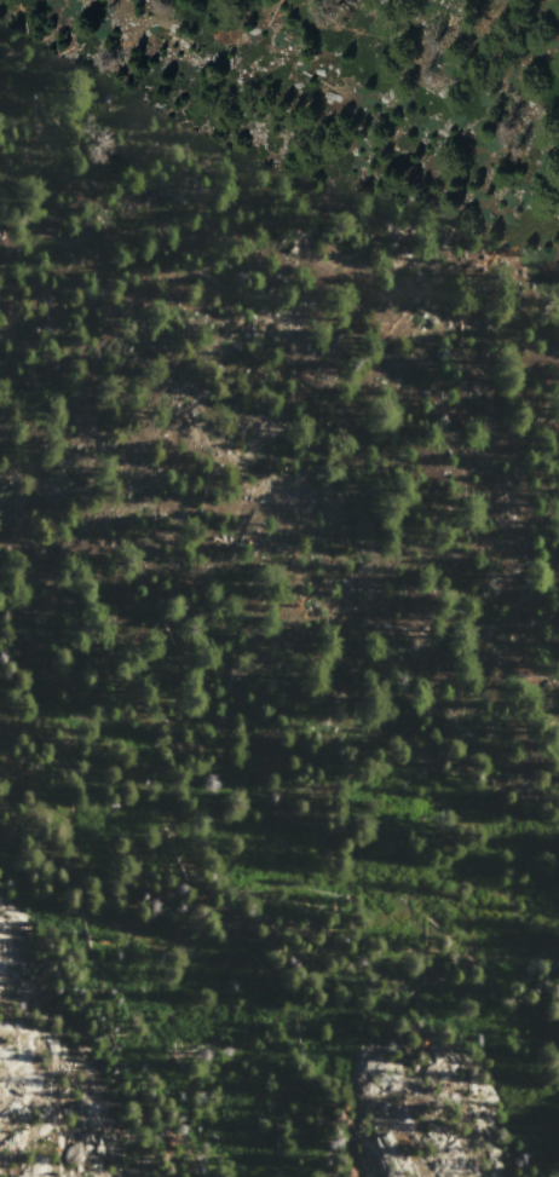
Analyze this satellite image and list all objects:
road: (261, 925)

